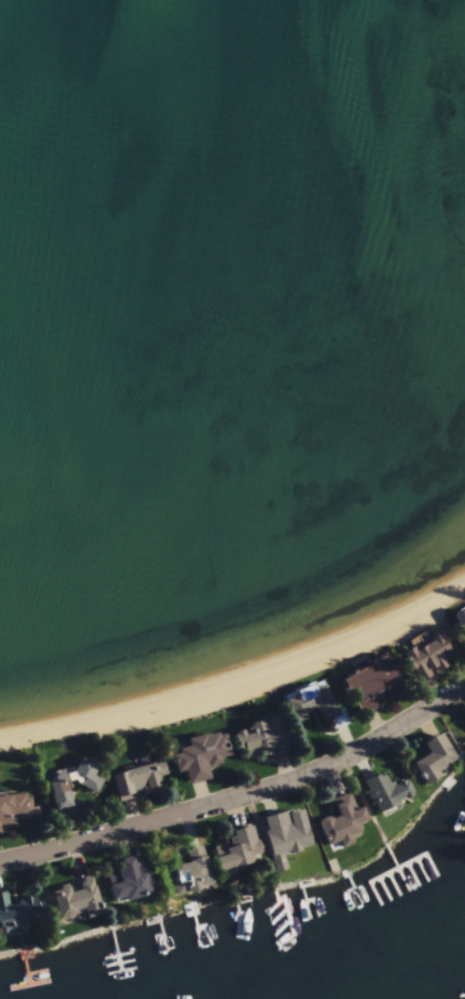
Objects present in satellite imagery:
building: (460, 623)
building: (429, 658)
building: (374, 685)
building: (315, 707)
building: (264, 741)
building: (199, 761)
building: (436, 762)
building: (138, 784)
building: (61, 792)
building: (387, 794)
road: (241, 799)
building: (16, 812)
building: (343, 823)
building: (289, 841)
building: (239, 852)
building: (193, 874)
building: (132, 883)
building: (77, 902)
building: (16, 915)

